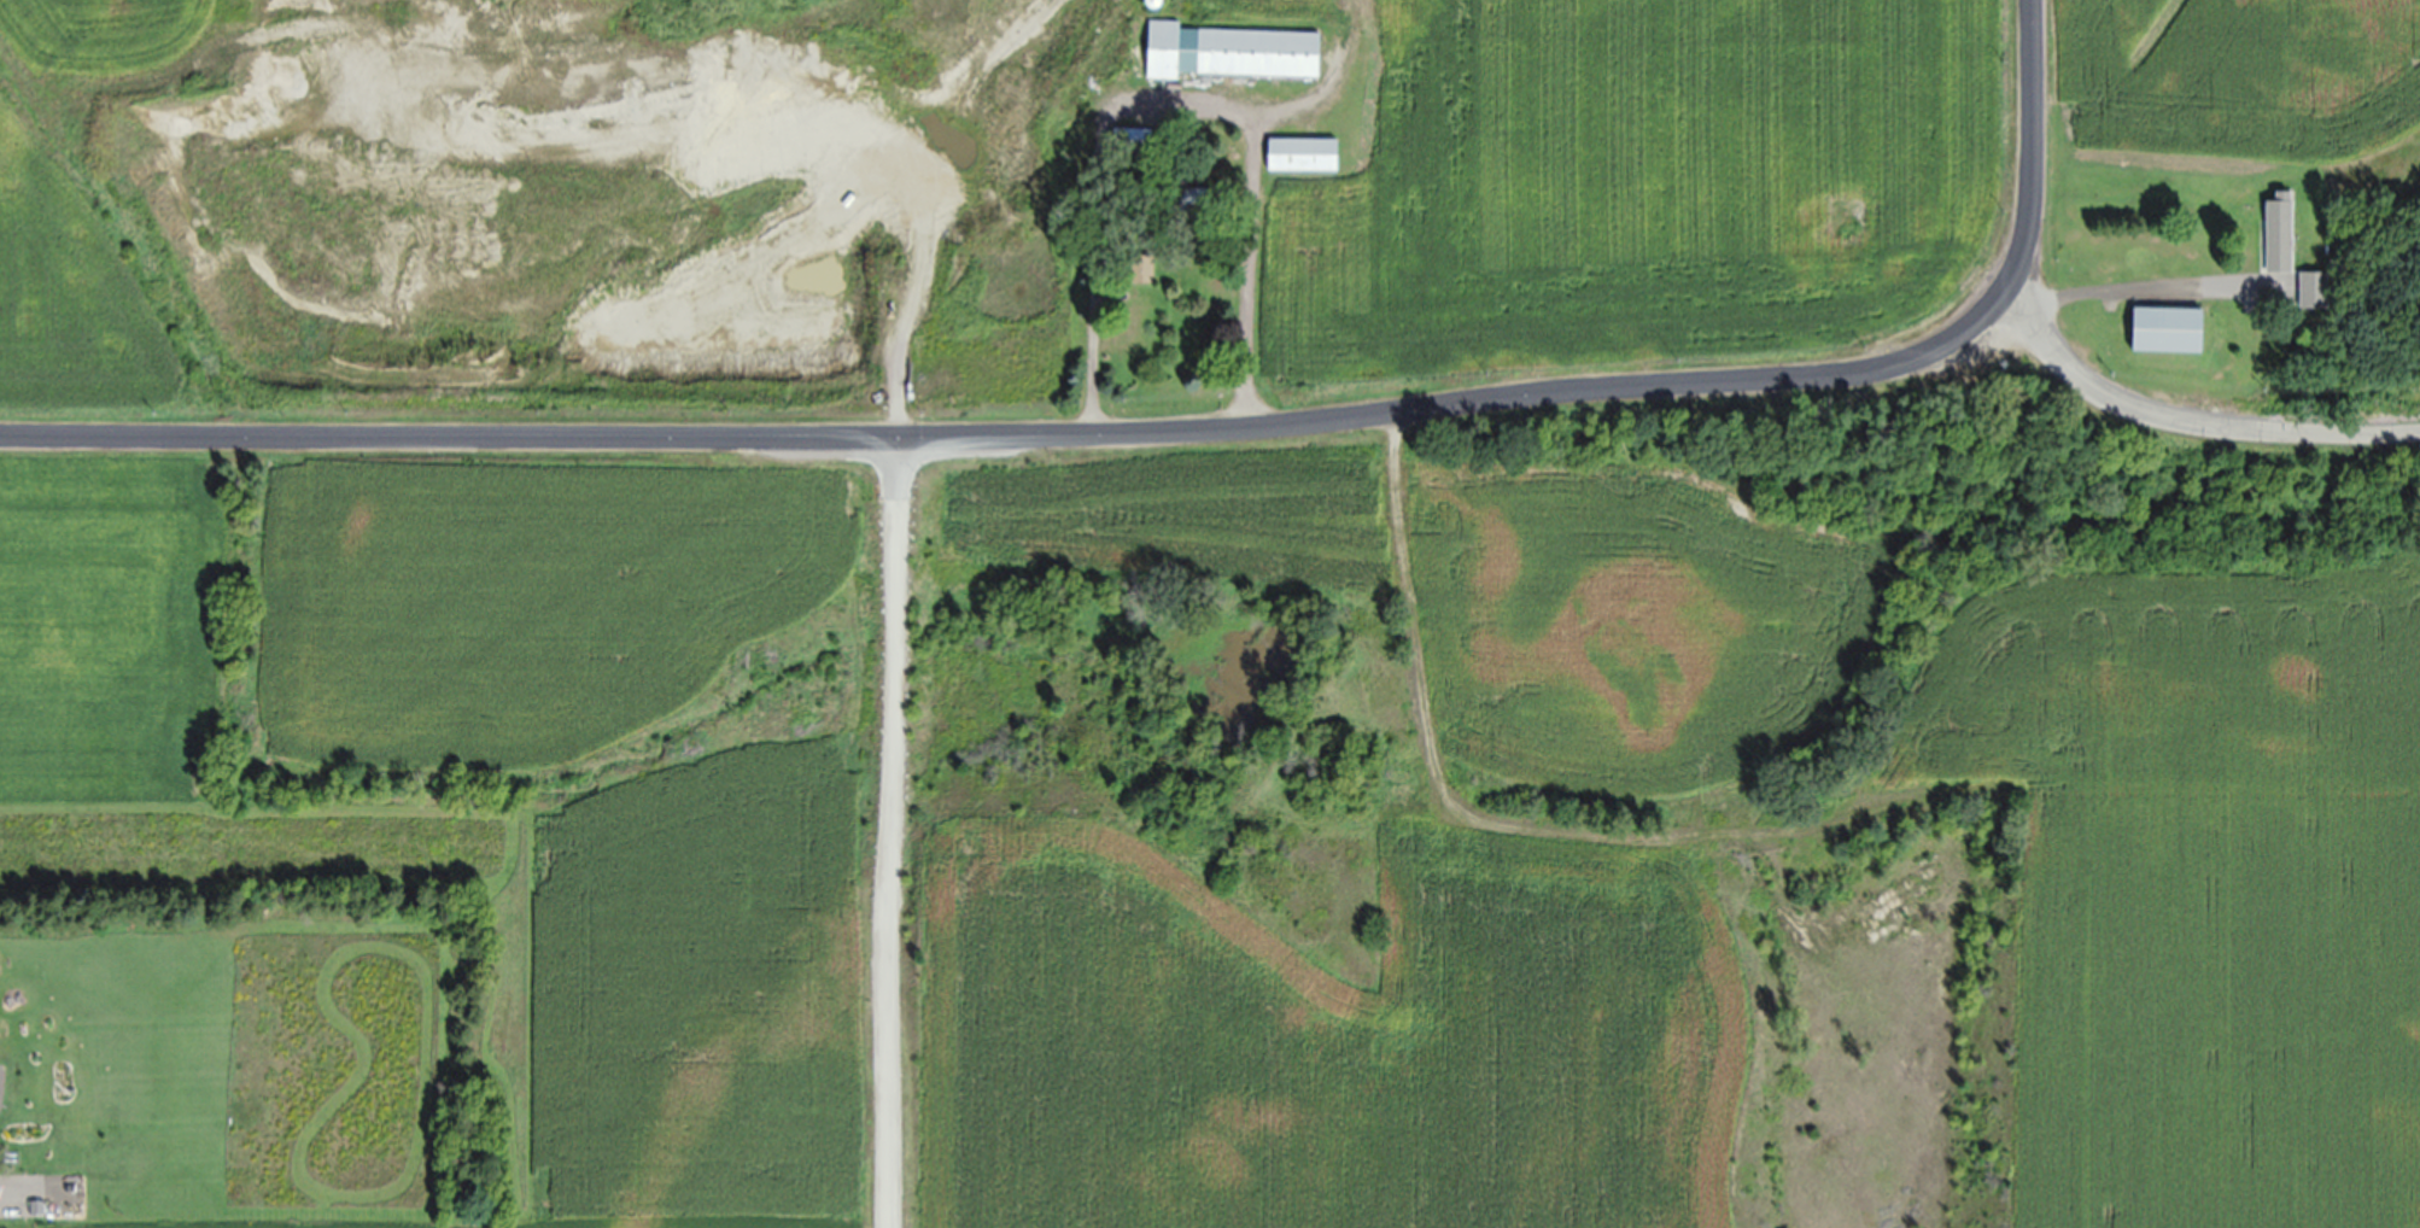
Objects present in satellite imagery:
building: (1079, 45)
building: (1227, 57)
building: (1299, 160)
road: (1250, 187)
road: (1097, 203)
building: (1188, 203)
building: (2276, 236)
building: (1140, 271)
road: (2155, 296)
building: (2311, 297)
building: (2164, 335)
road: (2186, 421)
road: (1165, 440)
road: (893, 657)
road: (22, 1204)

